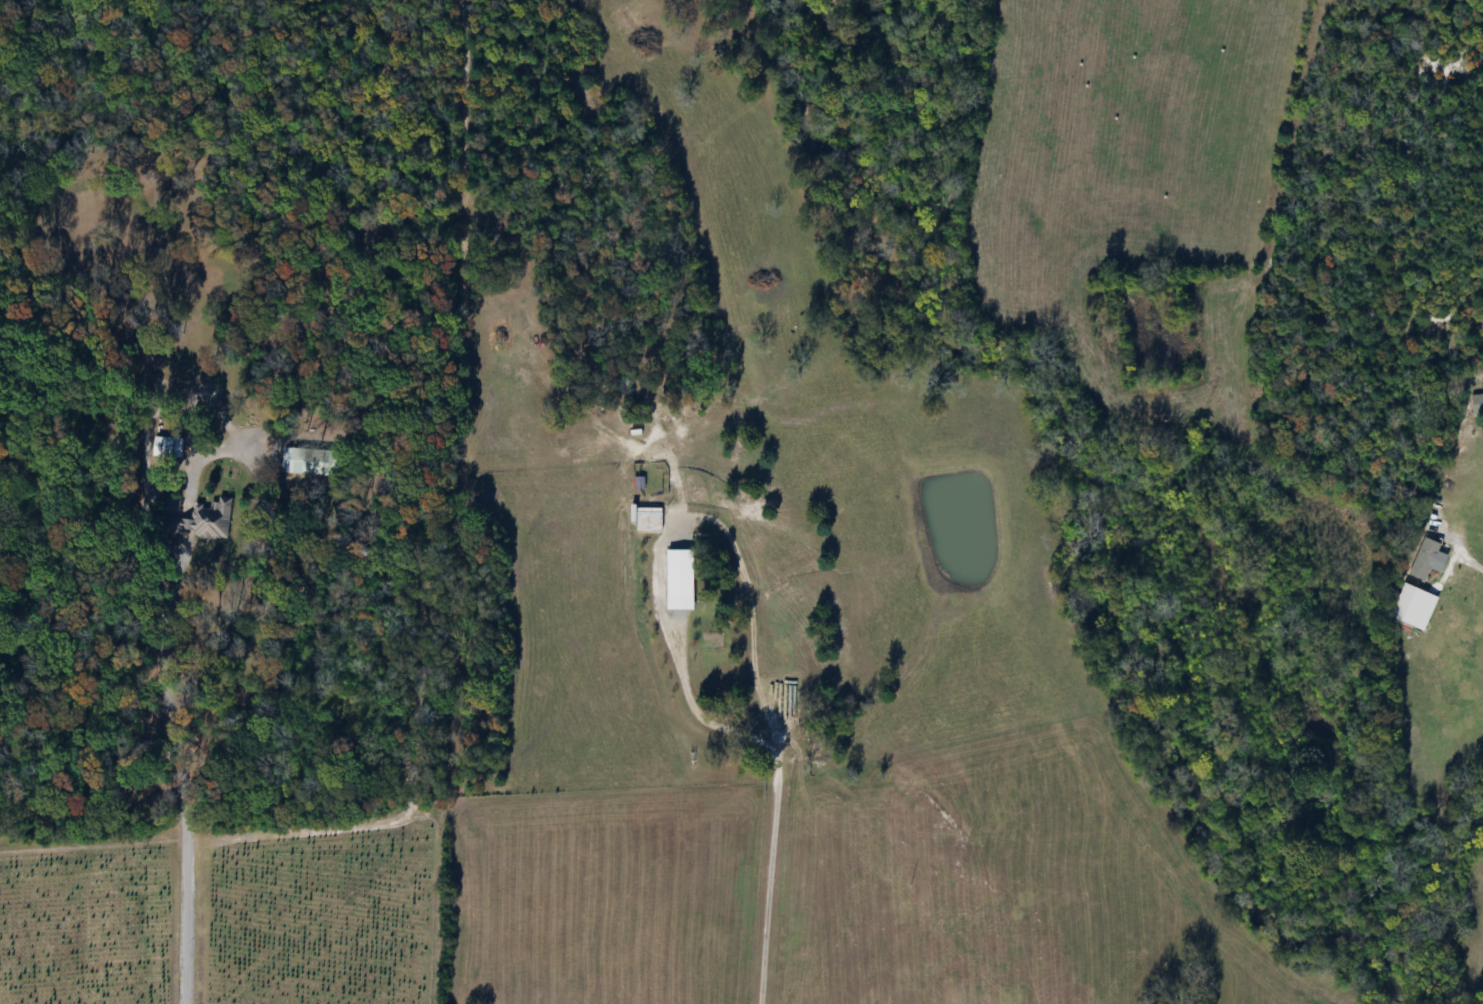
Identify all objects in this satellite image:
building: (165, 446)
building: (312, 462)
building: (201, 518)
road: (673, 524)
building: (1423, 557)
road: (1472, 560)
building: (677, 577)
road: (165, 780)
road: (769, 877)

